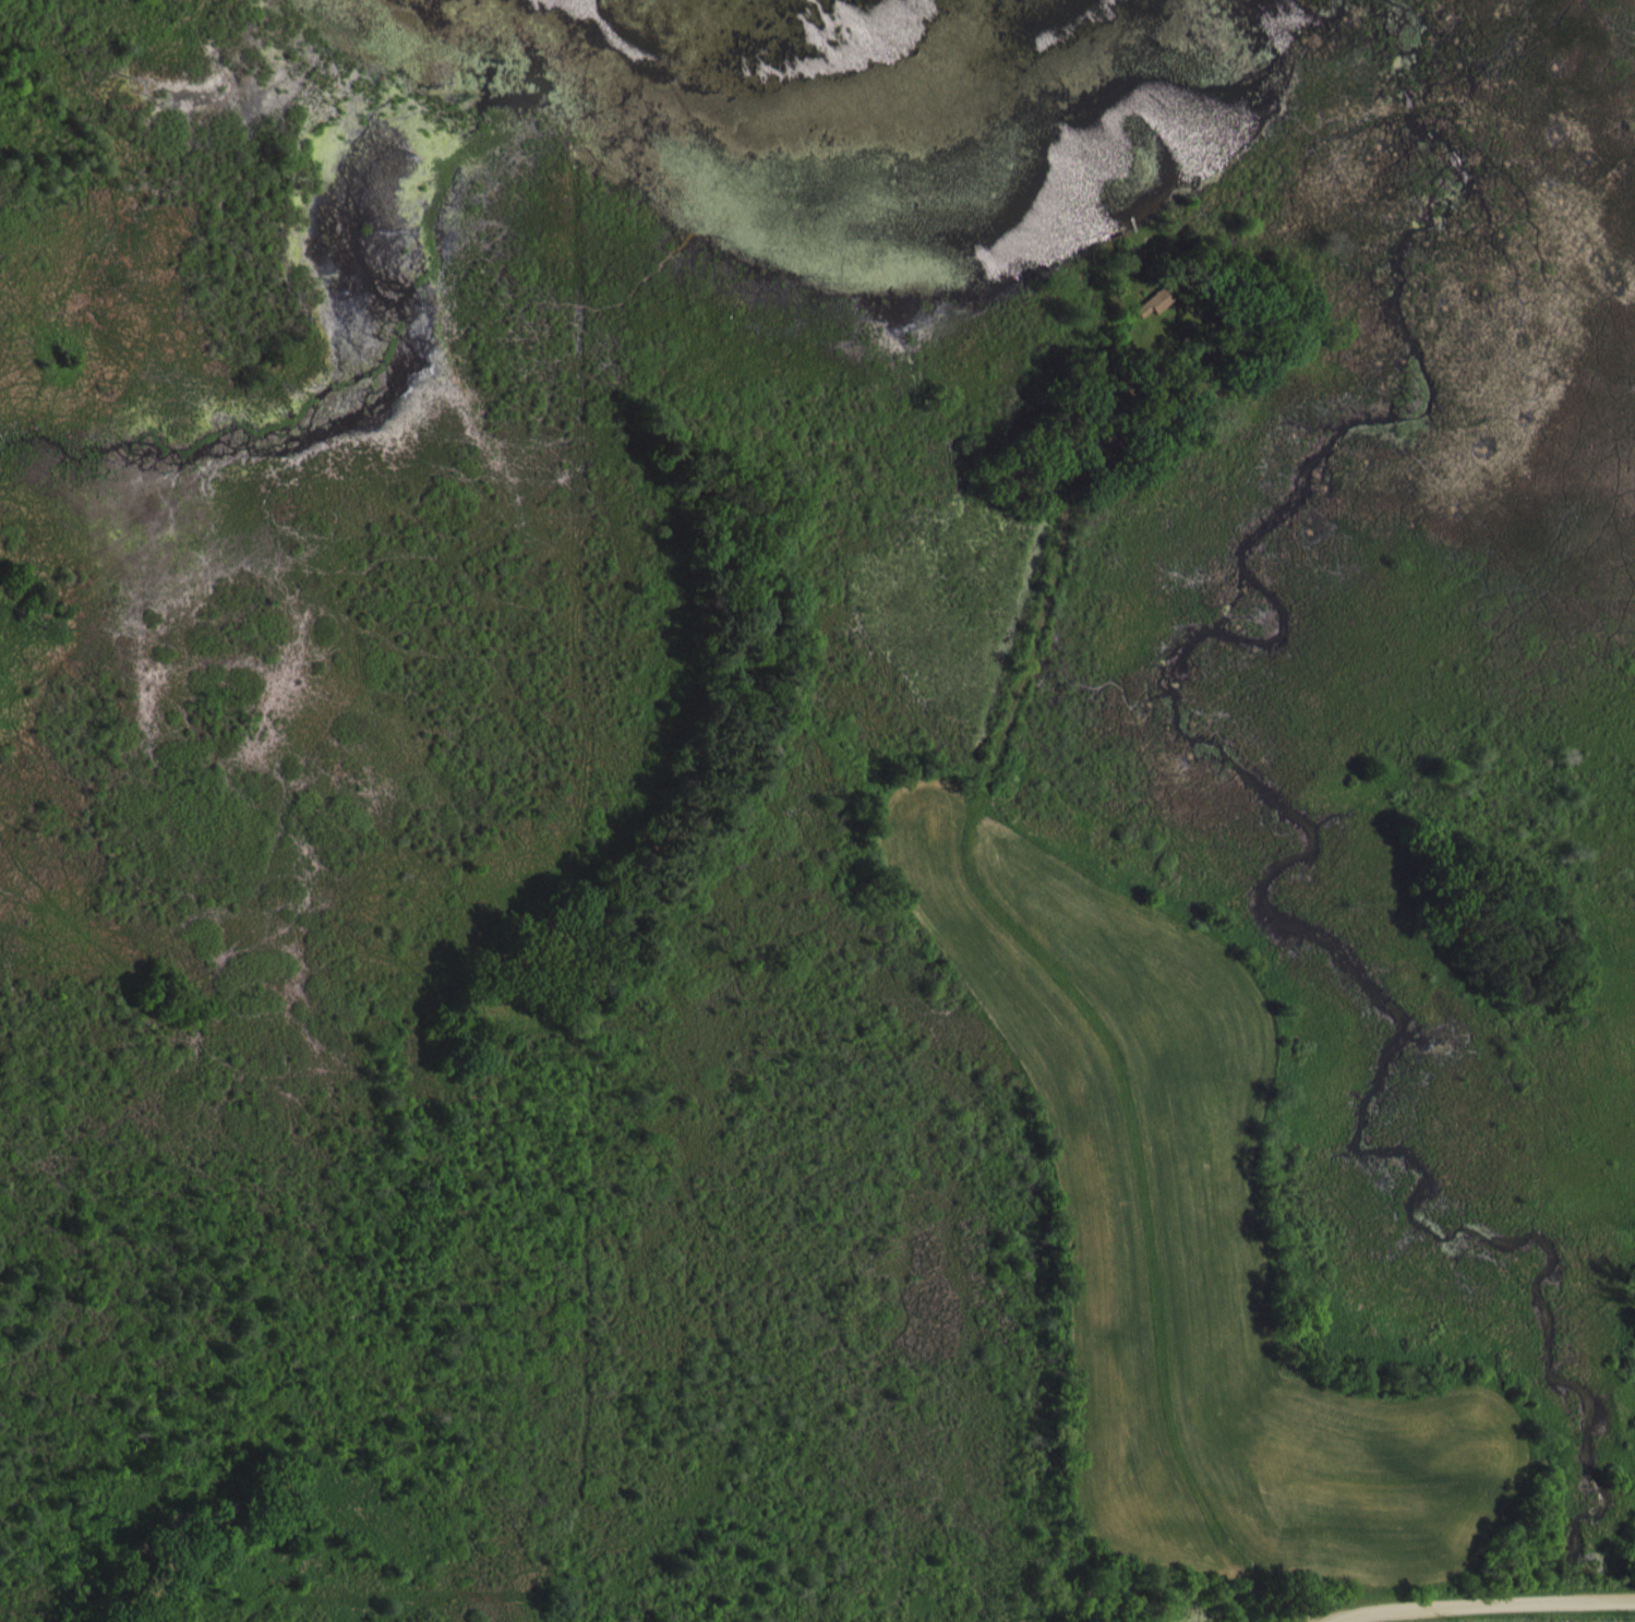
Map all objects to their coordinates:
road: (1477, 1605)

